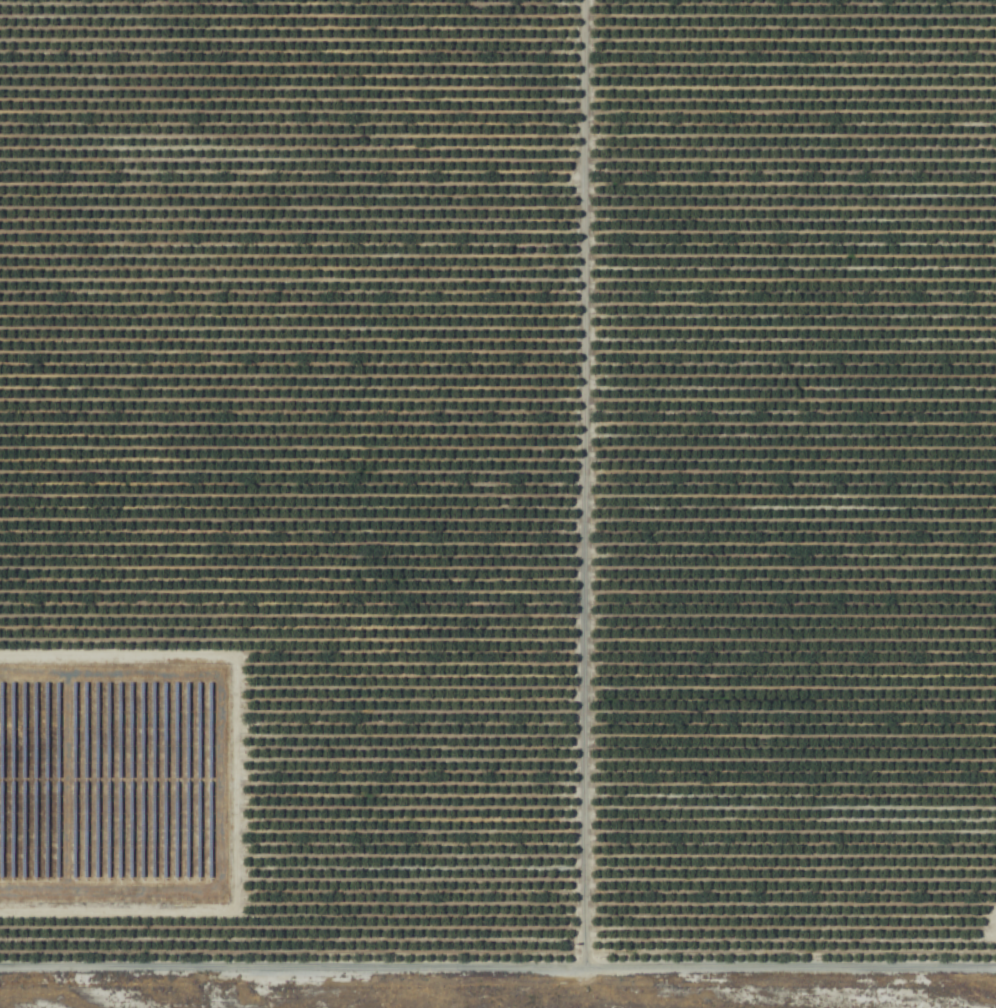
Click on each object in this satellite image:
road: (578, 487)
crop: (498, 491)
solar farm: (112, 789)
road: (498, 974)

